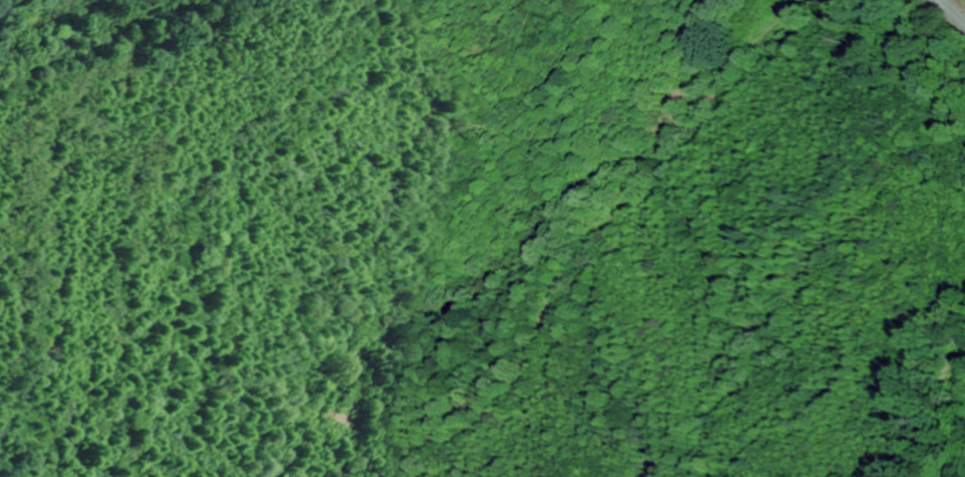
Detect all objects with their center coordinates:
road: (949, 14)

